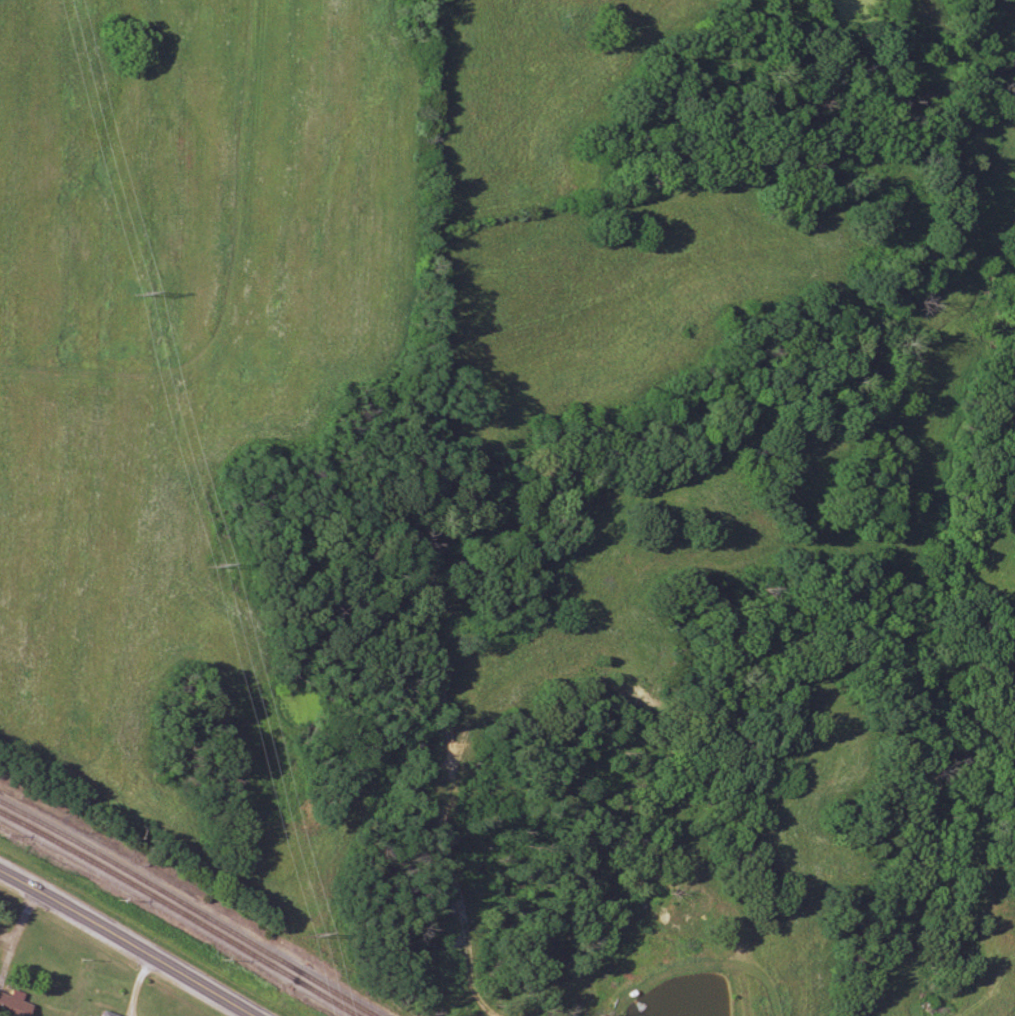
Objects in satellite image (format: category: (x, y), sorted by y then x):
power tower: (149, 291)
power tower: (224, 565)
railway: (188, 906)
railway: (179, 912)
power tower: (329, 932)
road: (122, 944)

